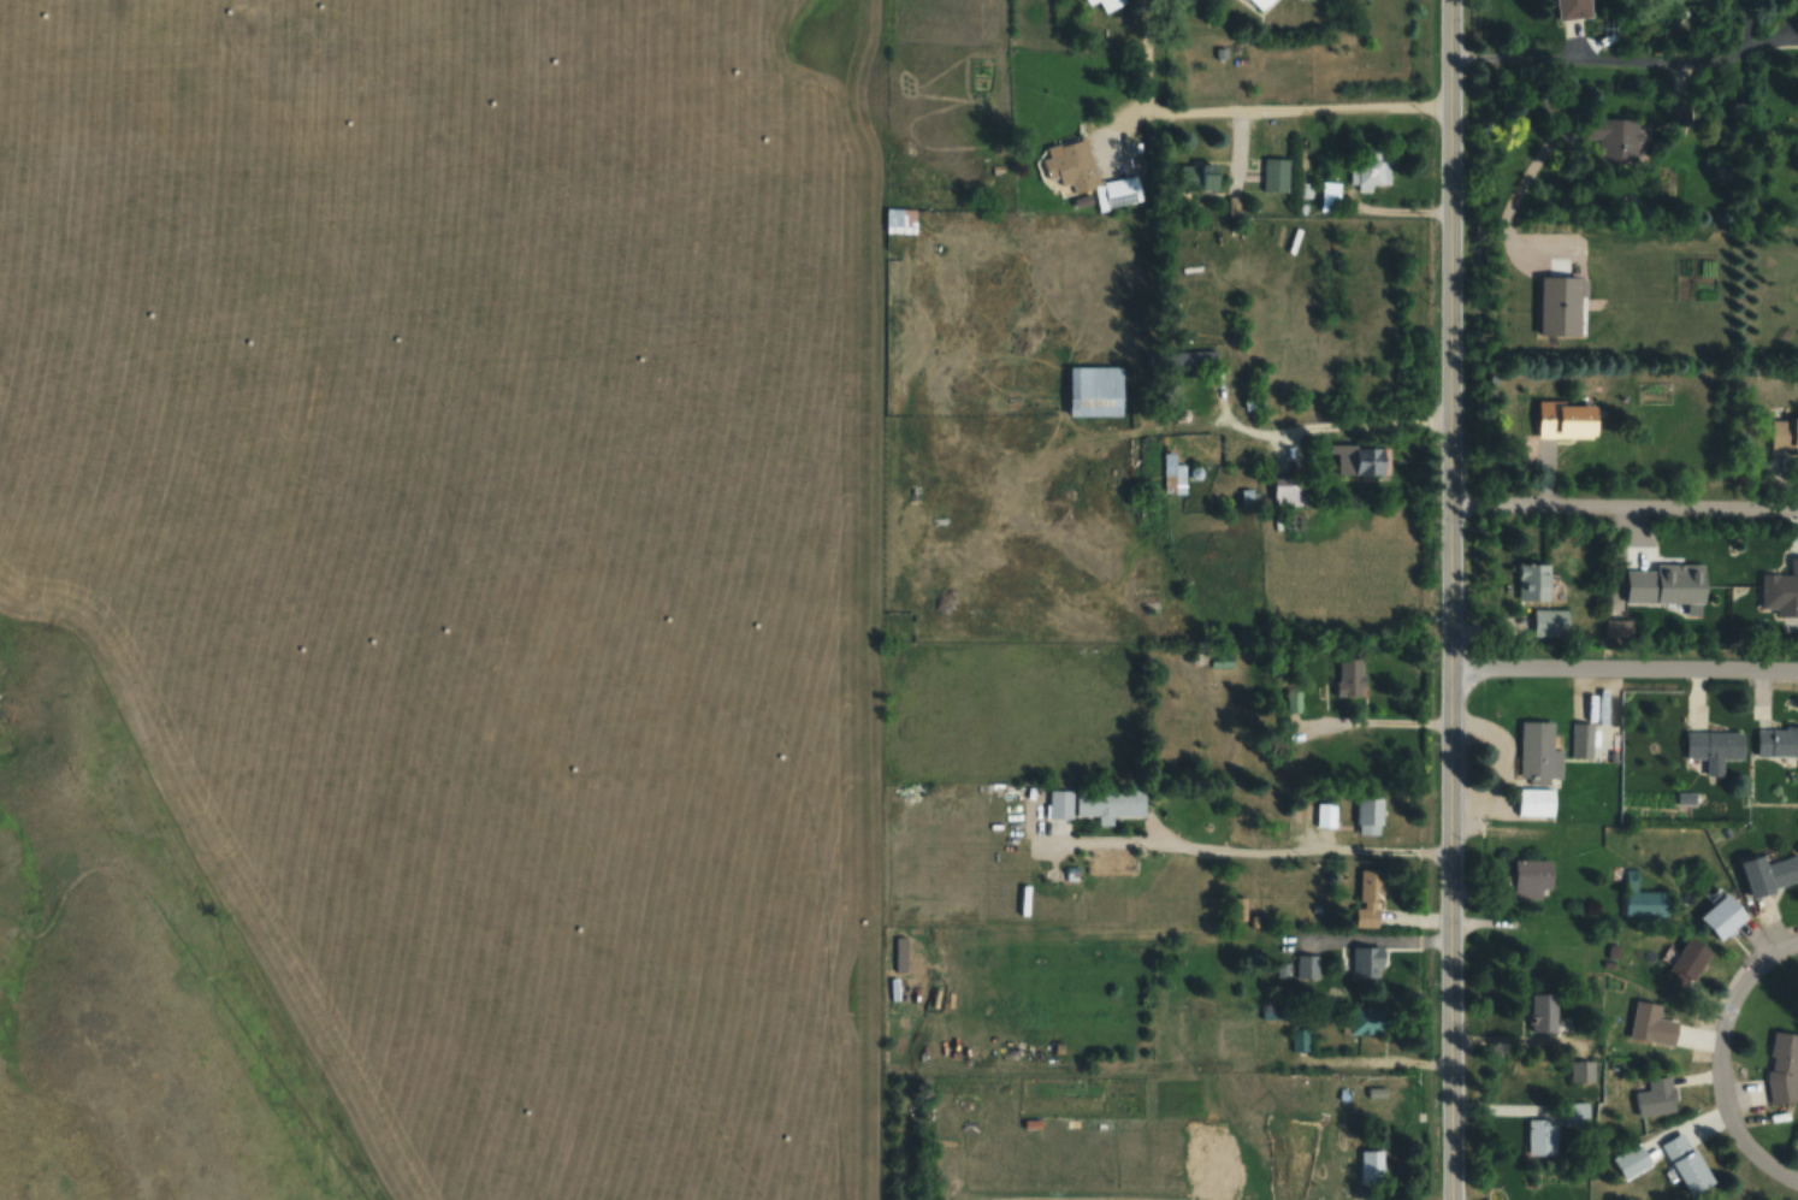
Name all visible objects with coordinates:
building: (1107, 4)
building: (1261, 4)
building: (1573, 8)
road: (1279, 111)
building: (1734, 111)
building: (1682, 114)
building: (1614, 138)
building: (1370, 166)
building: (1274, 173)
building: (1089, 175)
building: (1213, 181)
building: (1330, 201)
building: (899, 220)
road: (1447, 337)
building: (1095, 389)
building: (1568, 418)
building: (1784, 431)
building: (1359, 457)
building: (1172, 474)
building: (1291, 491)
road: (1621, 510)
building: (1534, 580)
building: (1550, 621)
road: (1621, 674)
building: (1350, 675)
building: (1581, 739)
building: (1776, 741)
building: (1715, 747)
building: (1537, 768)
building: (1110, 802)
building: (1061, 803)
building: (1370, 808)
road: (1445, 811)
building: (1772, 873)
building: (1533, 879)
building: (1371, 897)
building: (1645, 898)
building: (1726, 916)
building: (1365, 962)
building: (1690, 963)
building: (1306, 965)
building: (1543, 1012)
building: (1362, 1021)
building: (1652, 1024)
road: (1721, 1062)
building: (1784, 1066)
road: (1444, 1074)
building: (1657, 1098)
building: (1577, 1116)
building: (1540, 1136)
building: (1212, 1151)
building: (1281, 1153)
building: (1632, 1160)
building: (1688, 1164)
building: (1371, 1166)

